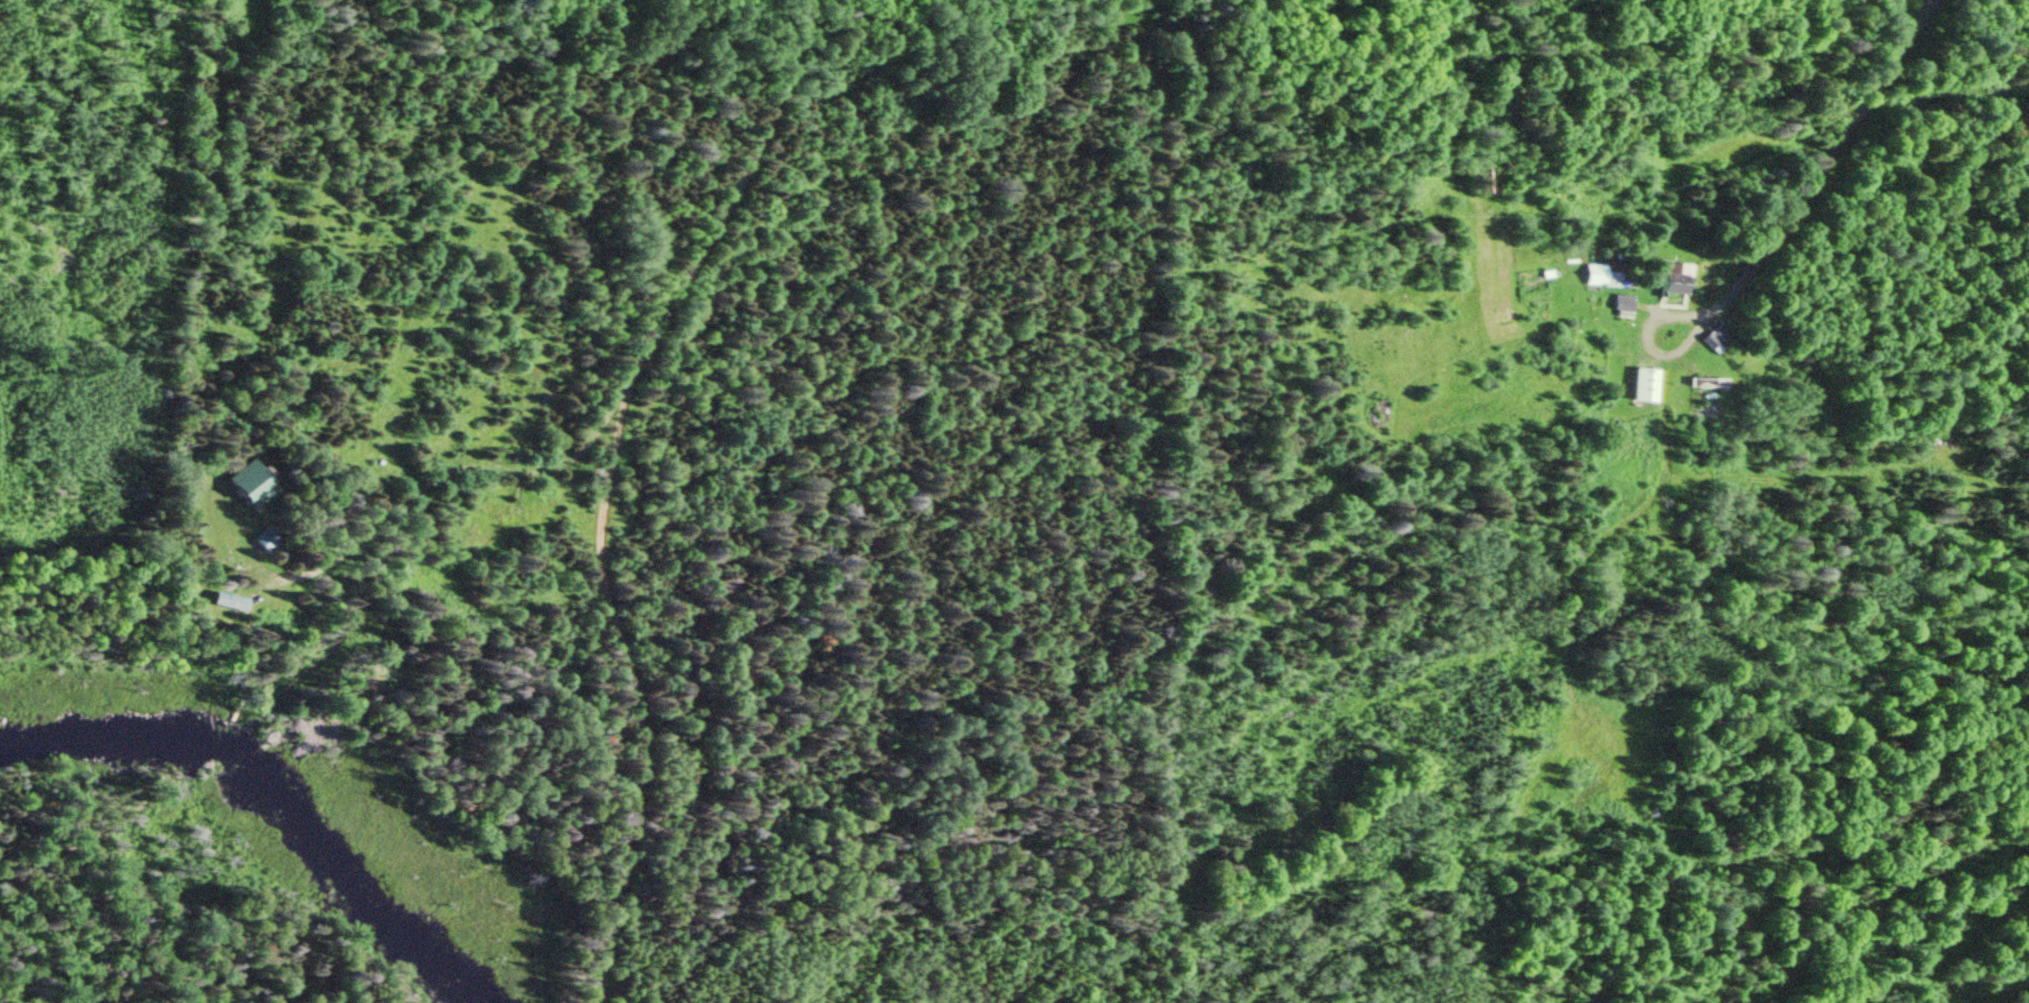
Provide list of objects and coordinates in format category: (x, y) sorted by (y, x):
road: (1805, 153)
building: (1599, 276)
building: (1673, 277)
building: (1621, 304)
building: (1643, 384)
road: (603, 481)
building: (261, 539)
building: (224, 601)
river: (259, 803)

